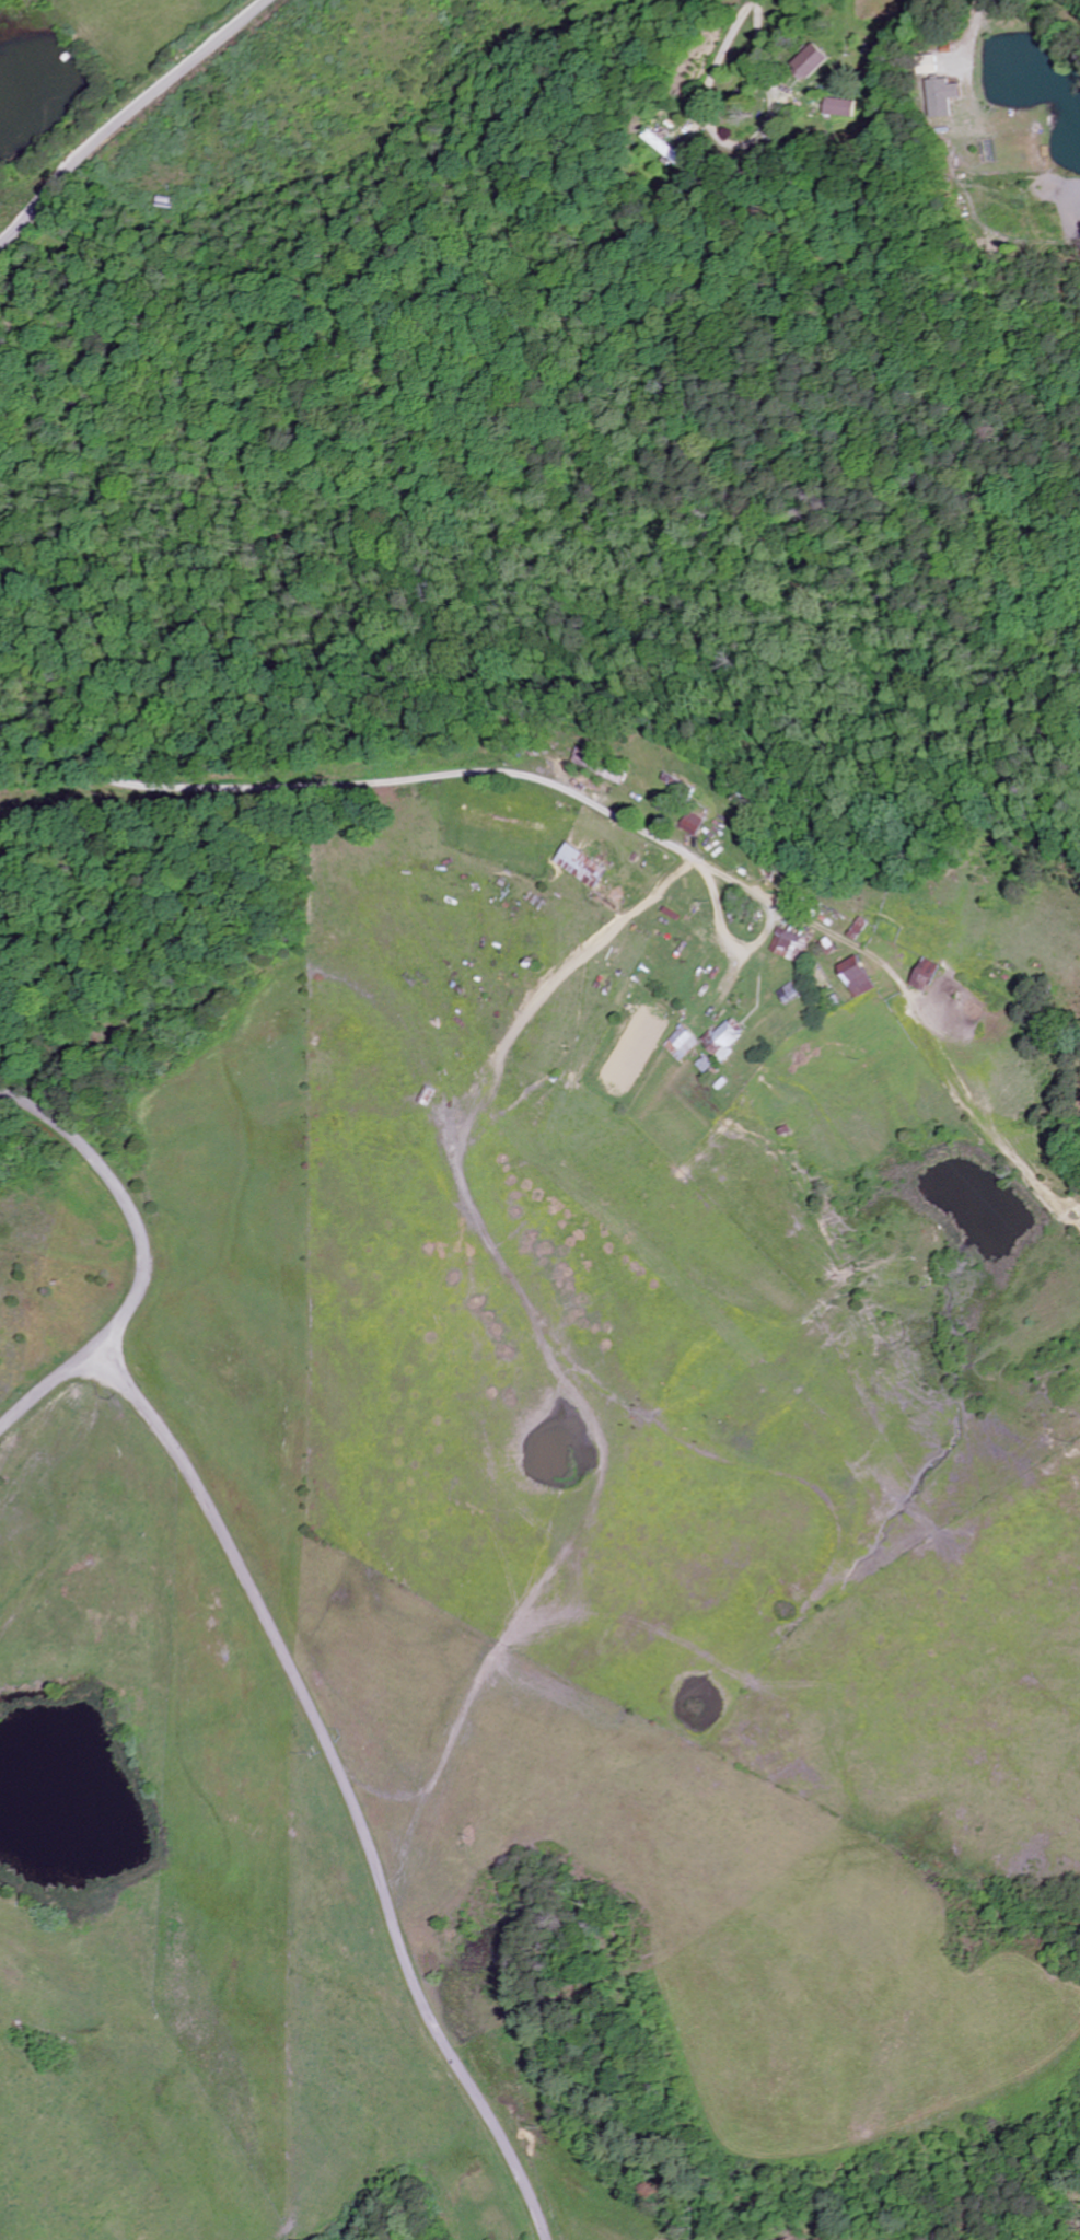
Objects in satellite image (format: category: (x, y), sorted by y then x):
road: (1071, 4)
road: (973, 35)
road: (765, 50)
building: (808, 63)
building: (938, 98)
road: (707, 105)
building: (838, 108)
road: (127, 113)
road: (549, 787)
road: (149, 788)
building: (690, 825)
building: (576, 867)
building: (790, 947)
building: (922, 976)
building: (852, 979)
building: (723, 1041)
building: (680, 1045)
road: (139, 1256)
road: (345, 1778)

